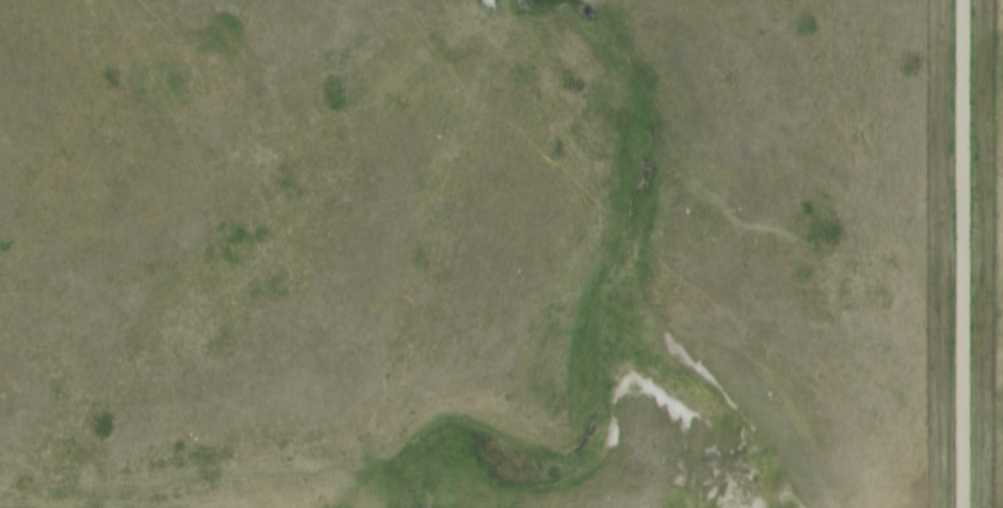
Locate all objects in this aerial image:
road: (961, 253)

